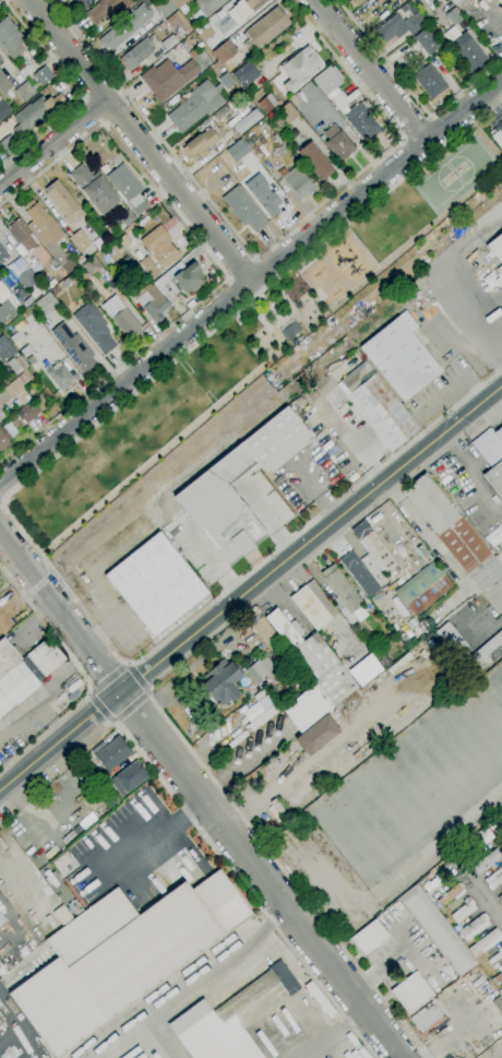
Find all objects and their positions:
building: (471, 0)
road: (5, 1)
building: (453, 1)
building: (456, 1)
building: (357, 2)
building: (82, 3)
building: (177, 3)
building: (499, 3)
building: (205, 8)
building: (243, 9)
building: (106, 11)
building: (453, 16)
building: (177, 22)
parking lot: (485, 22)
building: (399, 25)
building: (159, 26)
building: (124, 27)
building: (264, 29)
building: (203, 31)
building: (10, 38)
building: (207, 38)
building: (169, 41)
building: (426, 41)
building: (467, 51)
building: (136, 52)
building: (224, 54)
building: (191, 55)
building: (0, 58)
building: (299, 68)
building: (203, 69)
road: (369, 70)
building: (43, 75)
building: (244, 75)
building: (167, 79)
building: (326, 80)
building: (429, 82)
building: (4, 84)
road: (73, 90)
building: (24, 92)
building: (251, 94)
road: (410, 95)
building: (339, 100)
building: (266, 104)
building: (194, 107)
building: (3, 110)
building: (36, 112)
road: (92, 112)
building: (287, 112)
building: (246, 120)
building: (361, 122)
road: (415, 128)
road: (138, 142)
road: (52, 143)
building: (337, 143)
building: (9, 144)
building: (200, 144)
building: (236, 150)
building: (280, 151)
building: (314, 161)
park: (470, 163)
building: (295, 181)
park: (440, 187)
building: (128, 188)
building: (93, 189)
building: (262, 194)
building: (62, 201)
building: (243, 209)
building: (47, 235)
building: (21, 236)
building: (80, 240)
road: (268, 246)
building: (160, 247)
building: (495, 248)
building: (3, 253)
building: (138, 254)
building: (80, 259)
building: (122, 261)
road: (213, 263)
building: (35, 266)
building: (91, 266)
building: (148, 268)
road: (239, 269)
building: (27, 280)
building: (186, 280)
road: (435, 281)
building: (50, 283)
road: (251, 284)
building: (62, 285)
building: (125, 289)
building: (46, 302)
building: (153, 304)
building: (5, 311)
building: (121, 317)
building: (94, 326)
building: (288, 330)
park: (244, 345)
building: (74, 347)
building: (4, 349)
building: (399, 357)
building: (29, 360)
building: (16, 365)
building: (59, 376)
building: (15, 385)
building: (379, 406)
building: (27, 412)
building: (1, 415)
building: (499, 433)
building: (5, 435)
building: (277, 441)
road: (467, 467)
building: (494, 478)
road: (2, 499)
building: (222, 506)
road: (11, 519)
road: (265, 520)
road: (425, 533)
building: (457, 539)
building: (373, 547)
road: (9, 570)
building: (359, 573)
building: (155, 584)
railway: (37, 585)
road: (251, 587)
building: (422, 589)
building: (339, 594)
building: (313, 605)
road: (494, 625)
building: (264, 633)
building: (453, 642)
building: (280, 650)
building: (488, 652)
building: (7, 656)
building: (45, 656)
building: (363, 669)
road: (104, 670)
building: (255, 671)
building: (312, 675)
road: (82, 676)
road: (139, 676)
building: (17, 683)
building: (222, 683)
road: (99, 708)
road: (132, 709)
building: (263, 717)
building: (315, 736)
building: (111, 754)
building: (128, 777)
road: (201, 796)
building: (485, 840)
road: (145, 844)
building: (487, 859)
road: (286, 875)
building: (494, 878)
building: (430, 884)
road: (15, 885)
road: (241, 885)
building: (450, 894)
road: (485, 900)
building: (501, 901)
building: (463, 911)
building: (1, 920)
building: (473, 927)
building: (438, 930)
building: (369, 937)
building: (485, 942)
building: (495, 956)
building: (121, 958)
building: (497, 978)
road: (198, 980)
building: (500, 991)
building: (411, 992)
building: (495, 1002)
building: (231, 1018)
building: (427, 1019)
road: (332, 1034)
road: (491, 1049)

